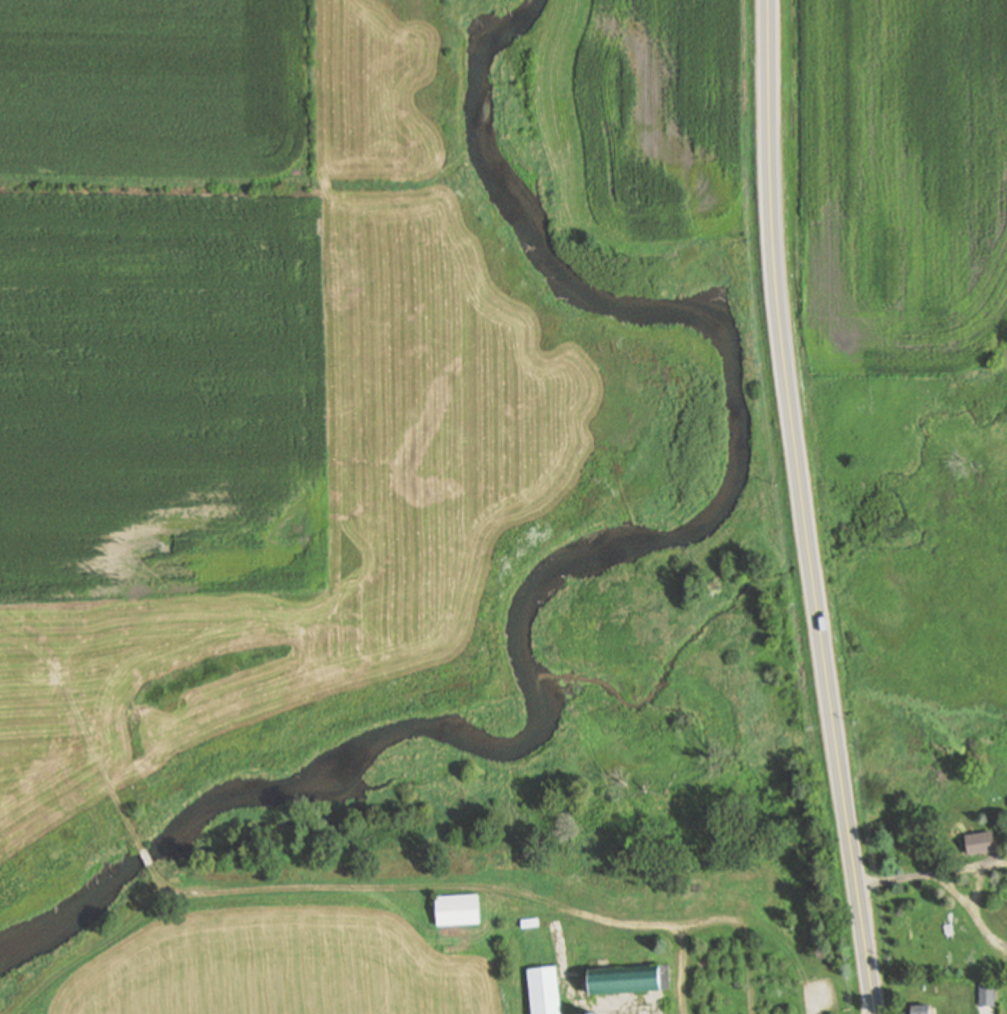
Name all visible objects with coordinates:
crop: (156, 88)
crop: (903, 175)
crop: (160, 395)
road: (803, 508)
river: (570, 561)
building: (980, 847)
building: (750, 890)
building: (702, 893)
building: (458, 909)
road: (716, 919)
building: (530, 922)
building: (578, 947)
crop: (274, 969)
road: (682, 970)
building: (630, 978)
building: (544, 990)
building: (986, 995)
building: (921, 1010)
building: (590, 1012)
silo: (590, 1012)

